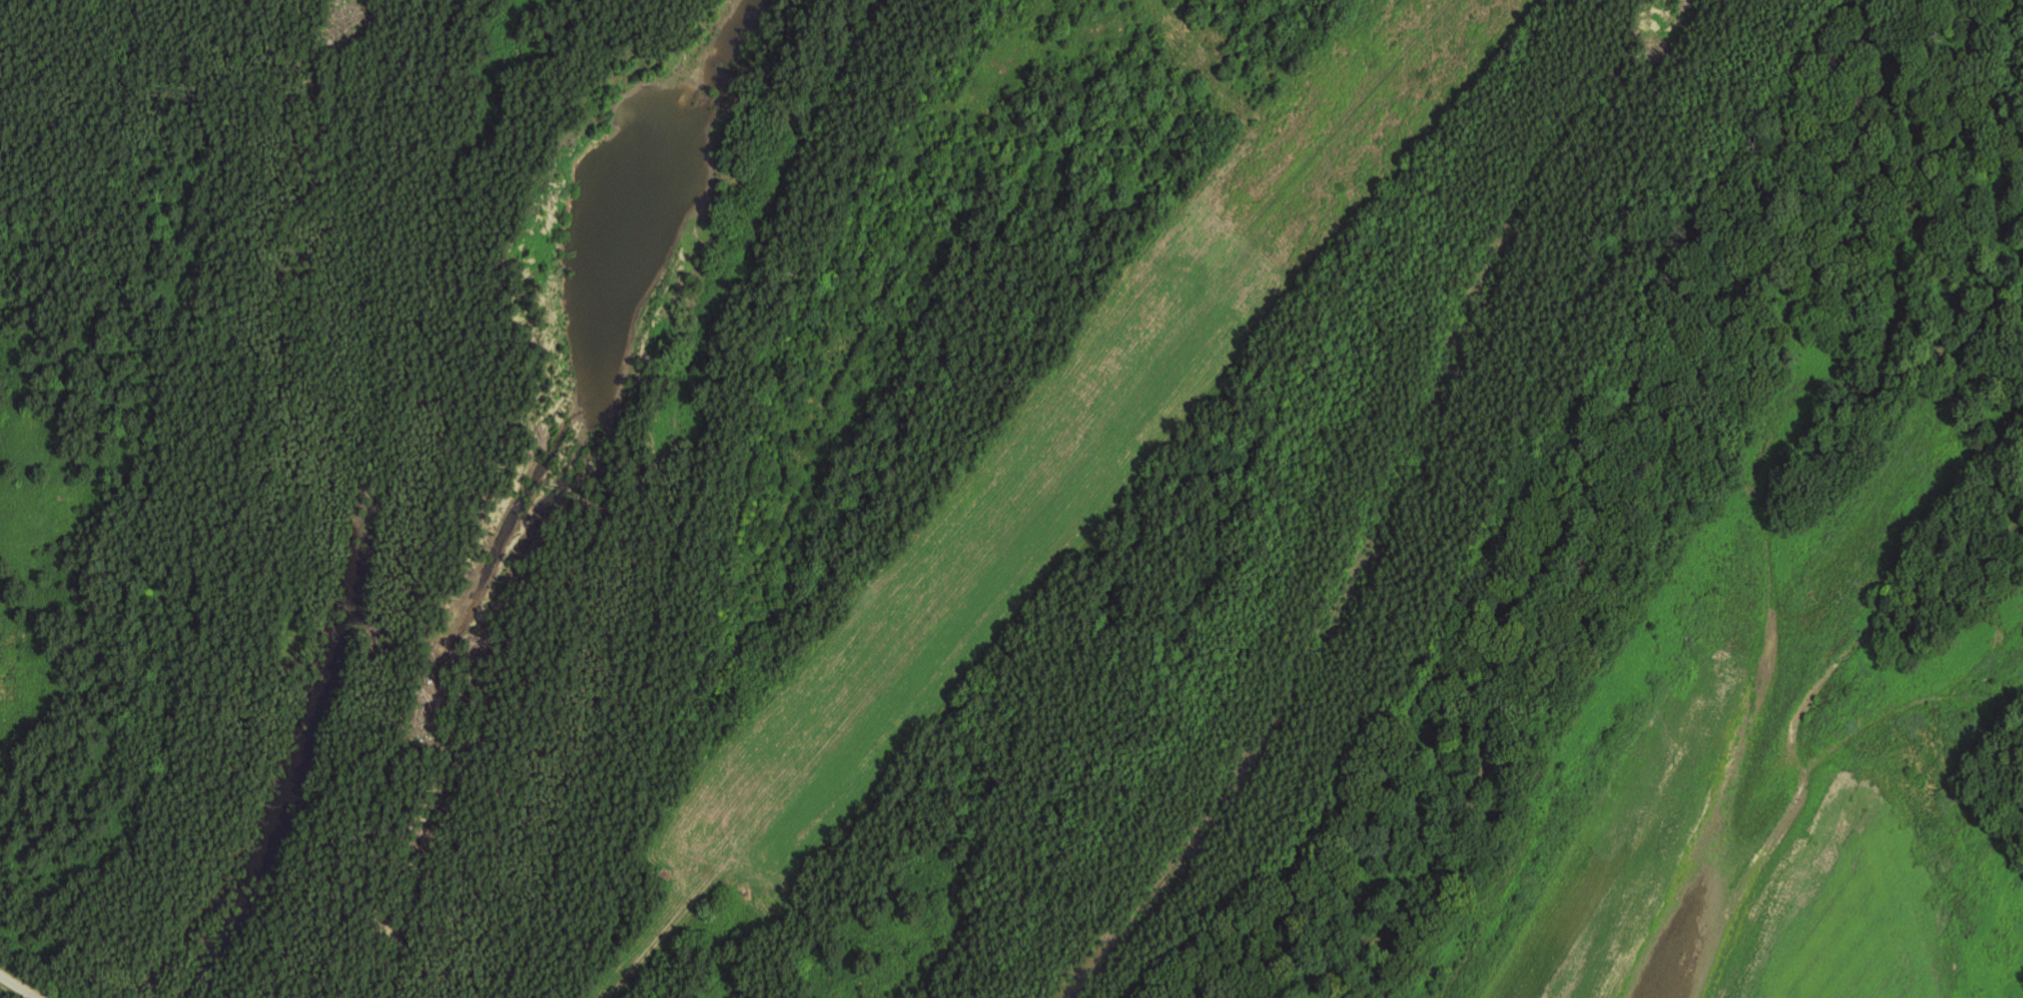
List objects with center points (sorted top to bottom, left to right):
road: (20, 987)

